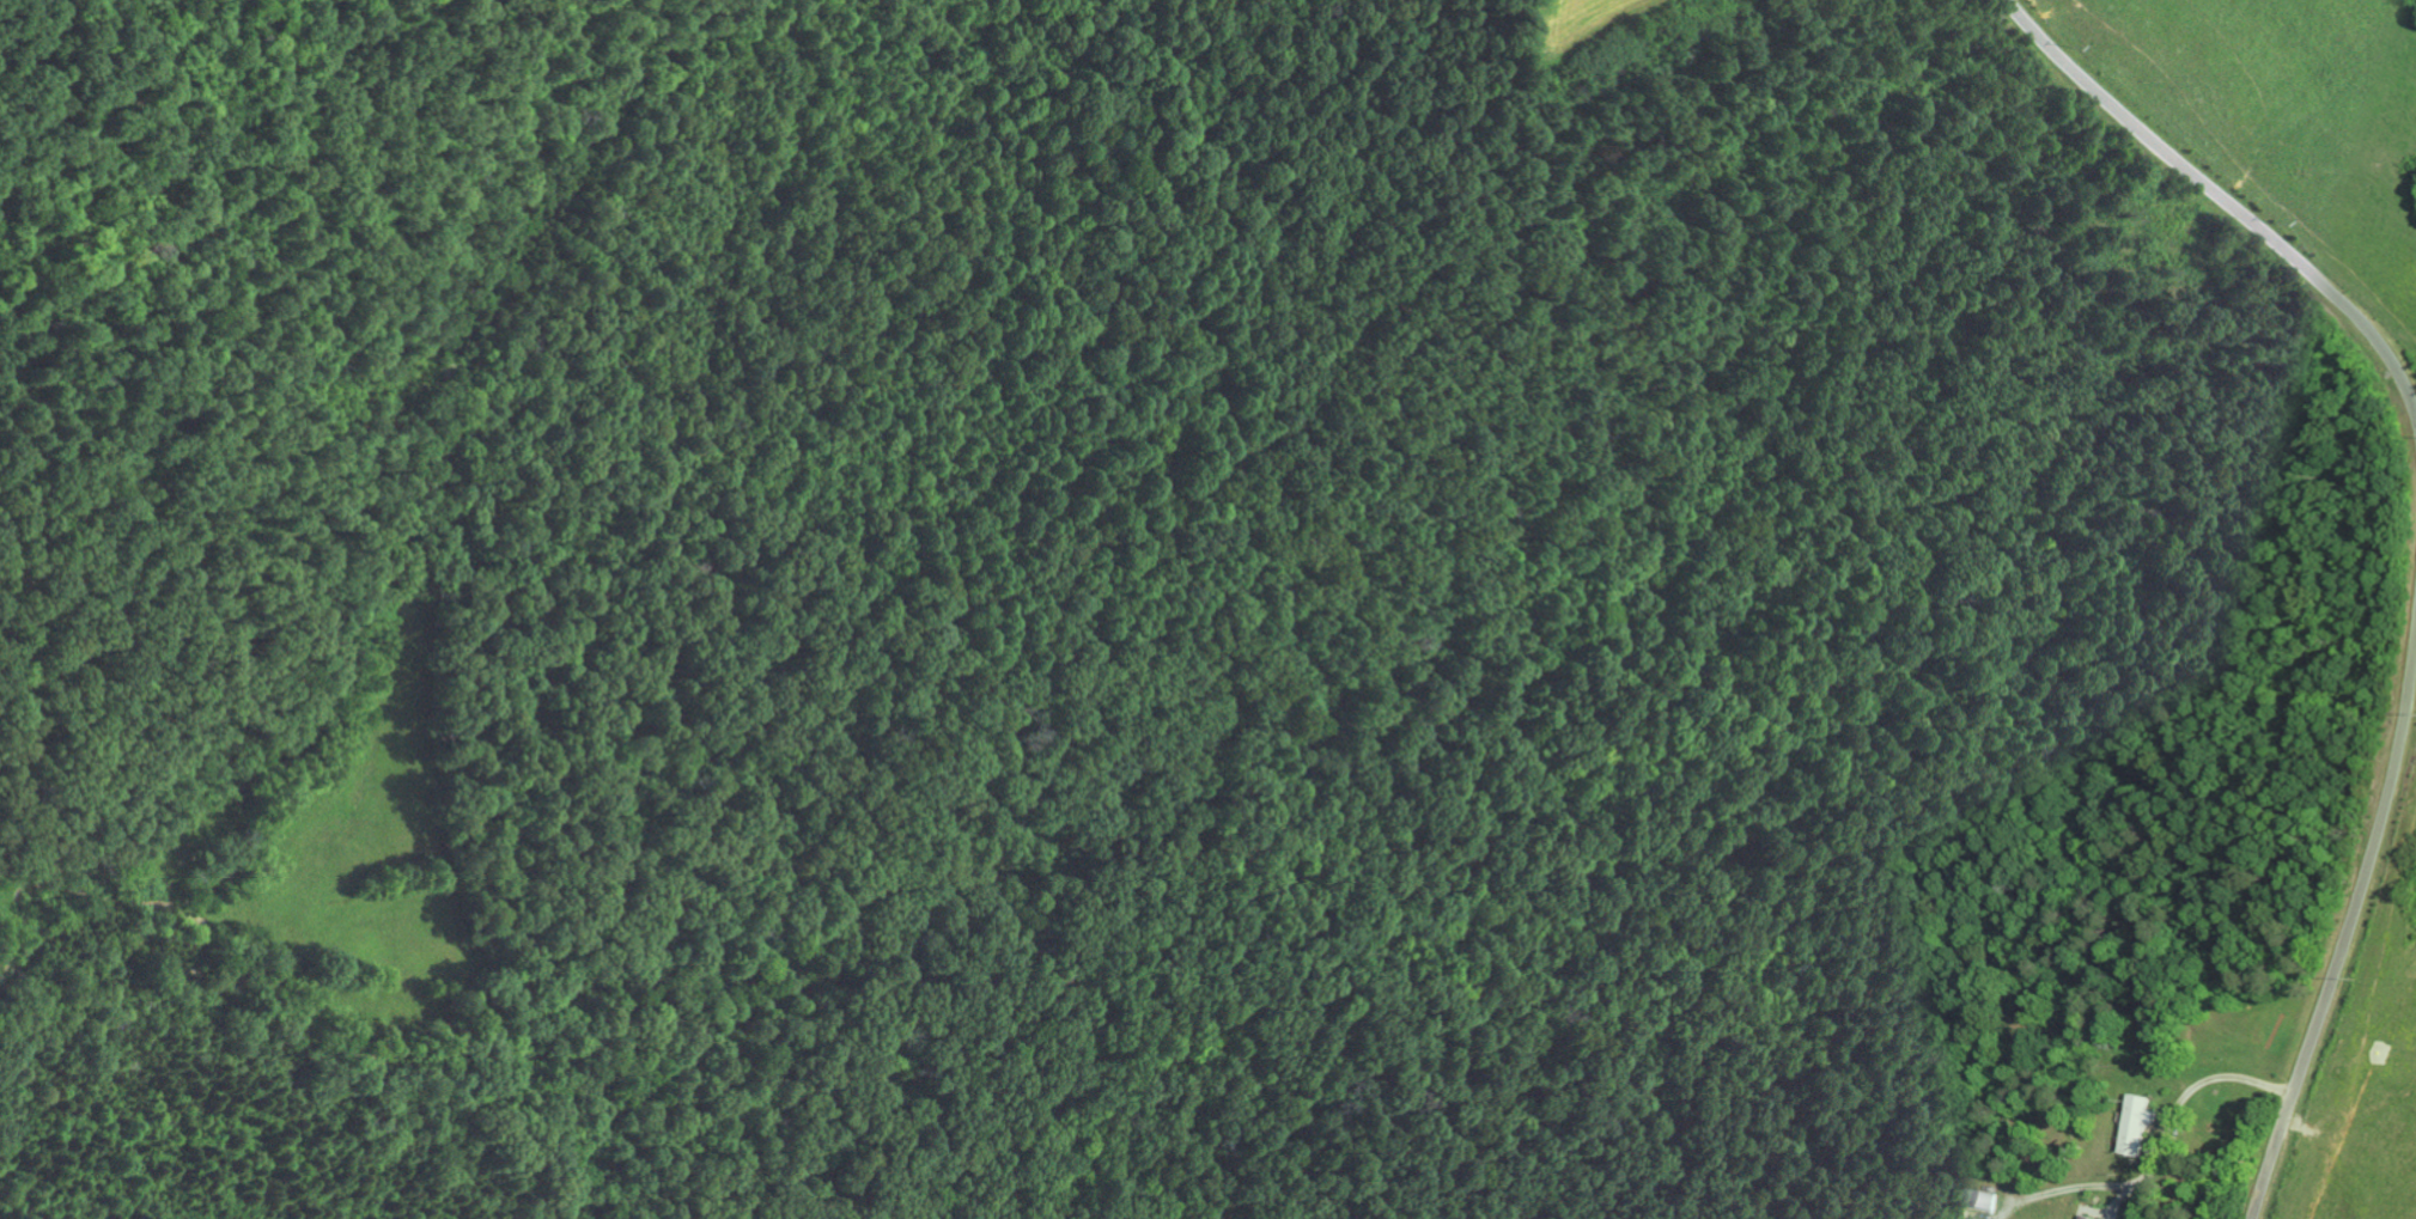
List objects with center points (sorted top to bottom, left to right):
road: (2217, 195)
road: (2341, 969)
building: (2141, 1123)
building: (1991, 1202)
building: (2089, 1217)

